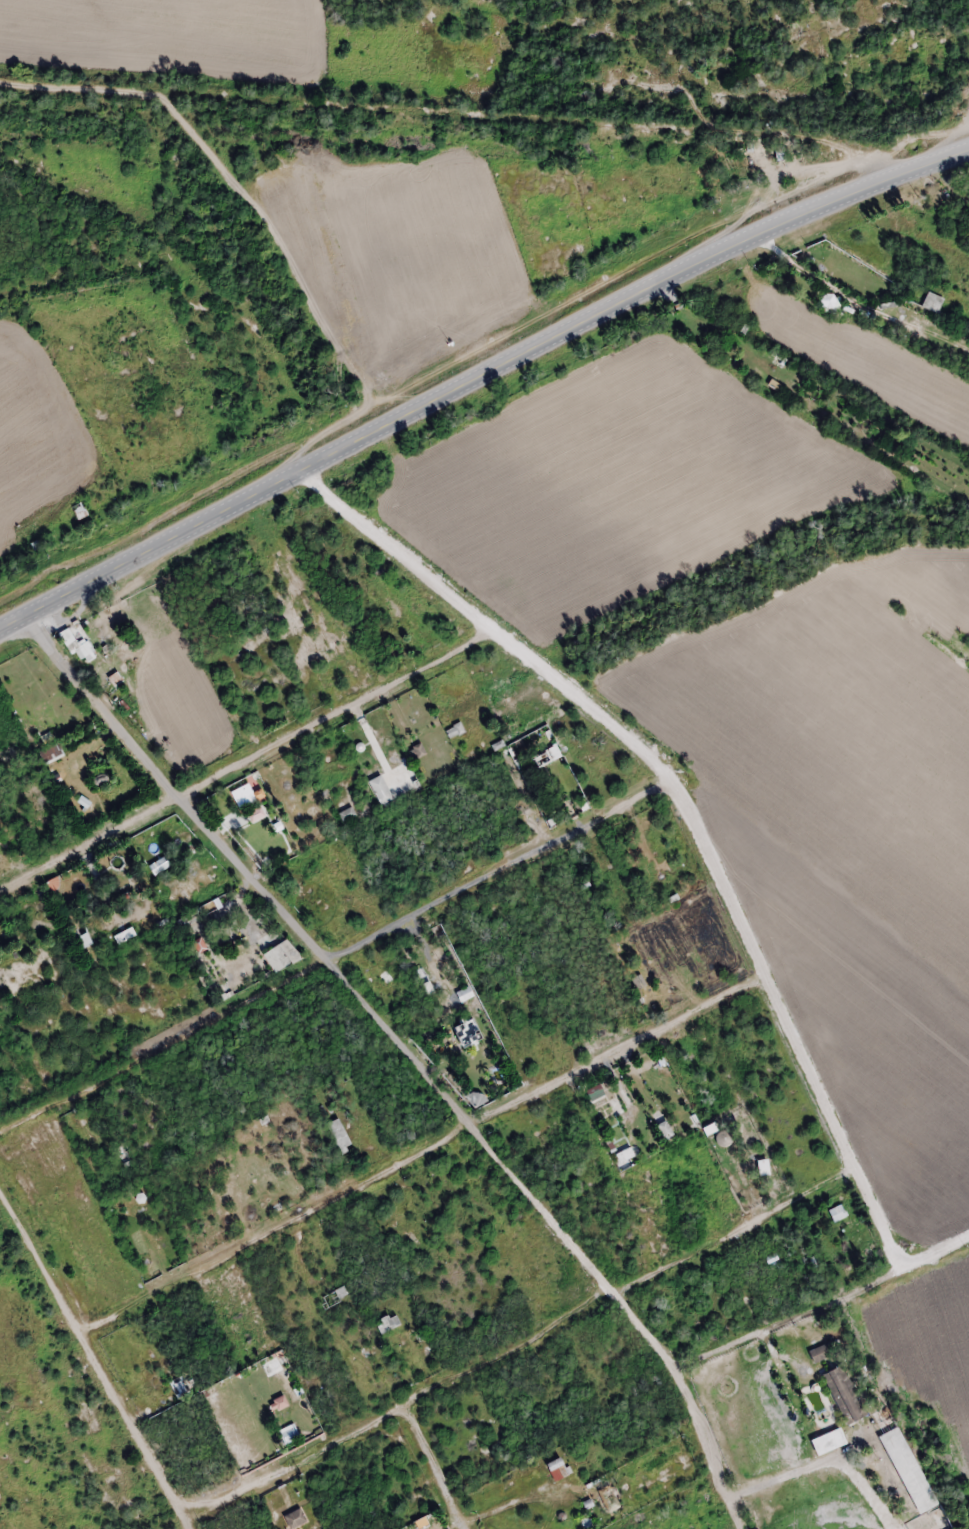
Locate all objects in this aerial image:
road: (463, 384)
road: (415, 1051)
road: (98, 1354)

